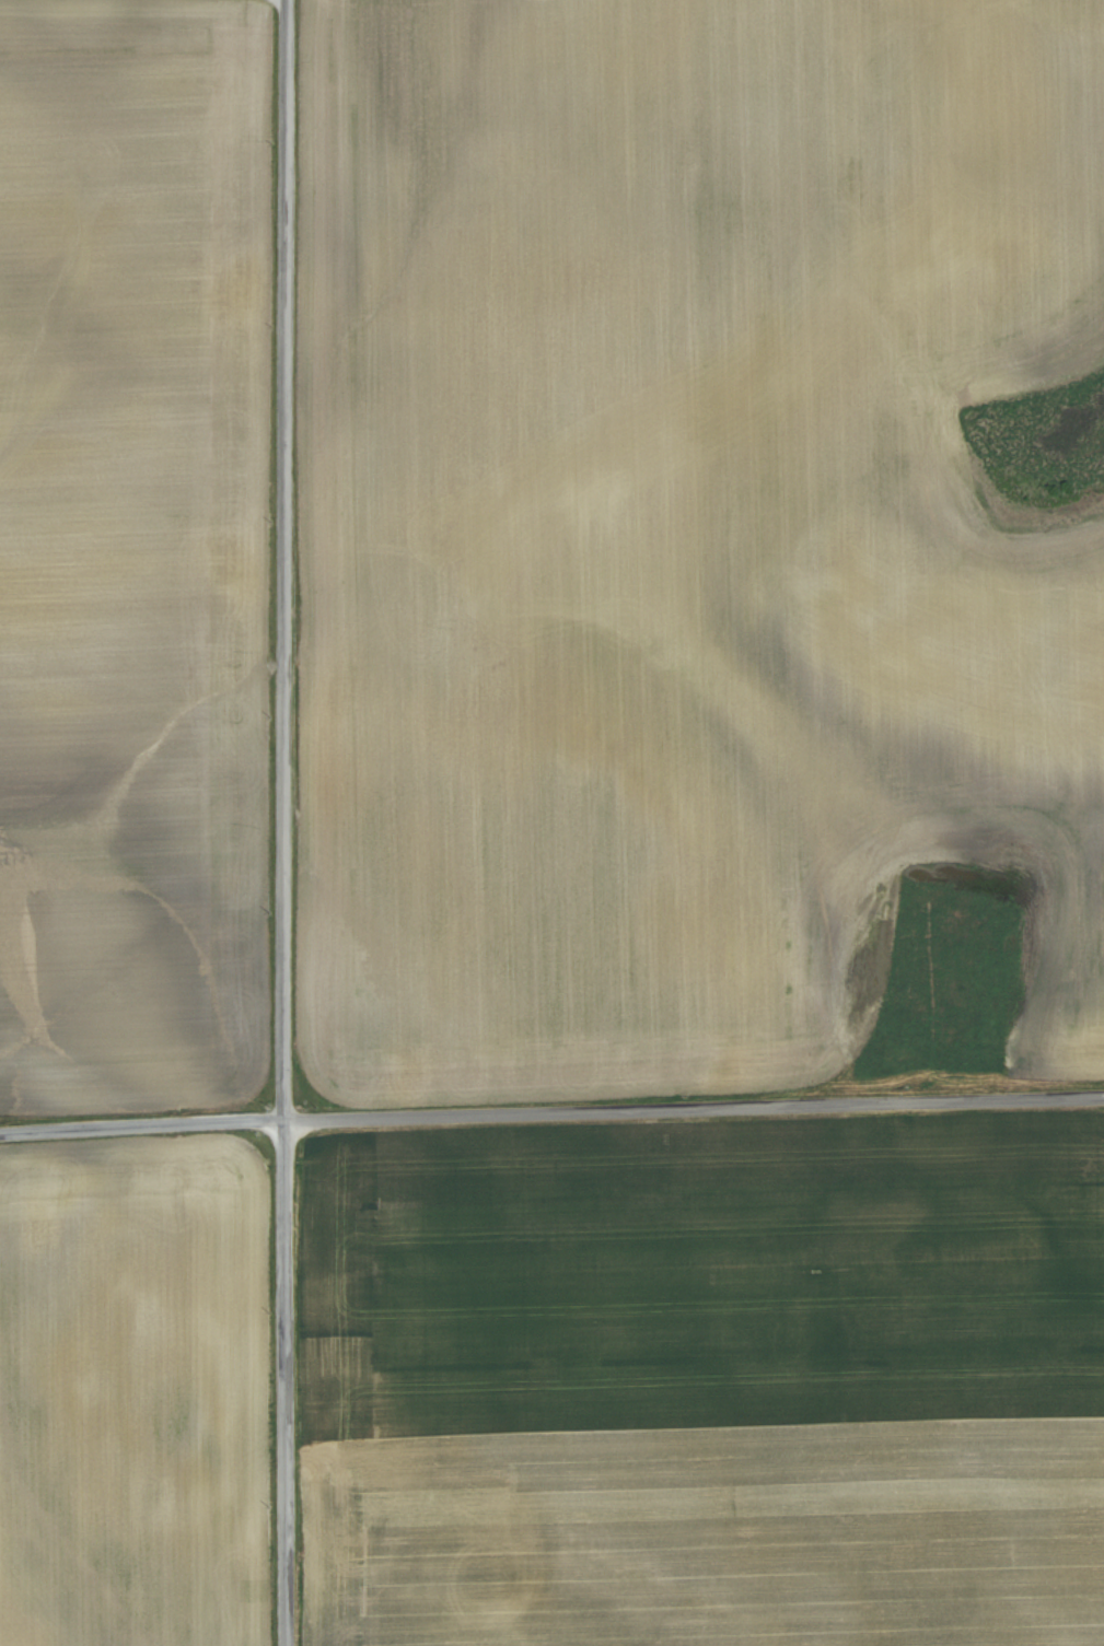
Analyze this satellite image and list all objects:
road: (280, 822)
road: (551, 1113)

